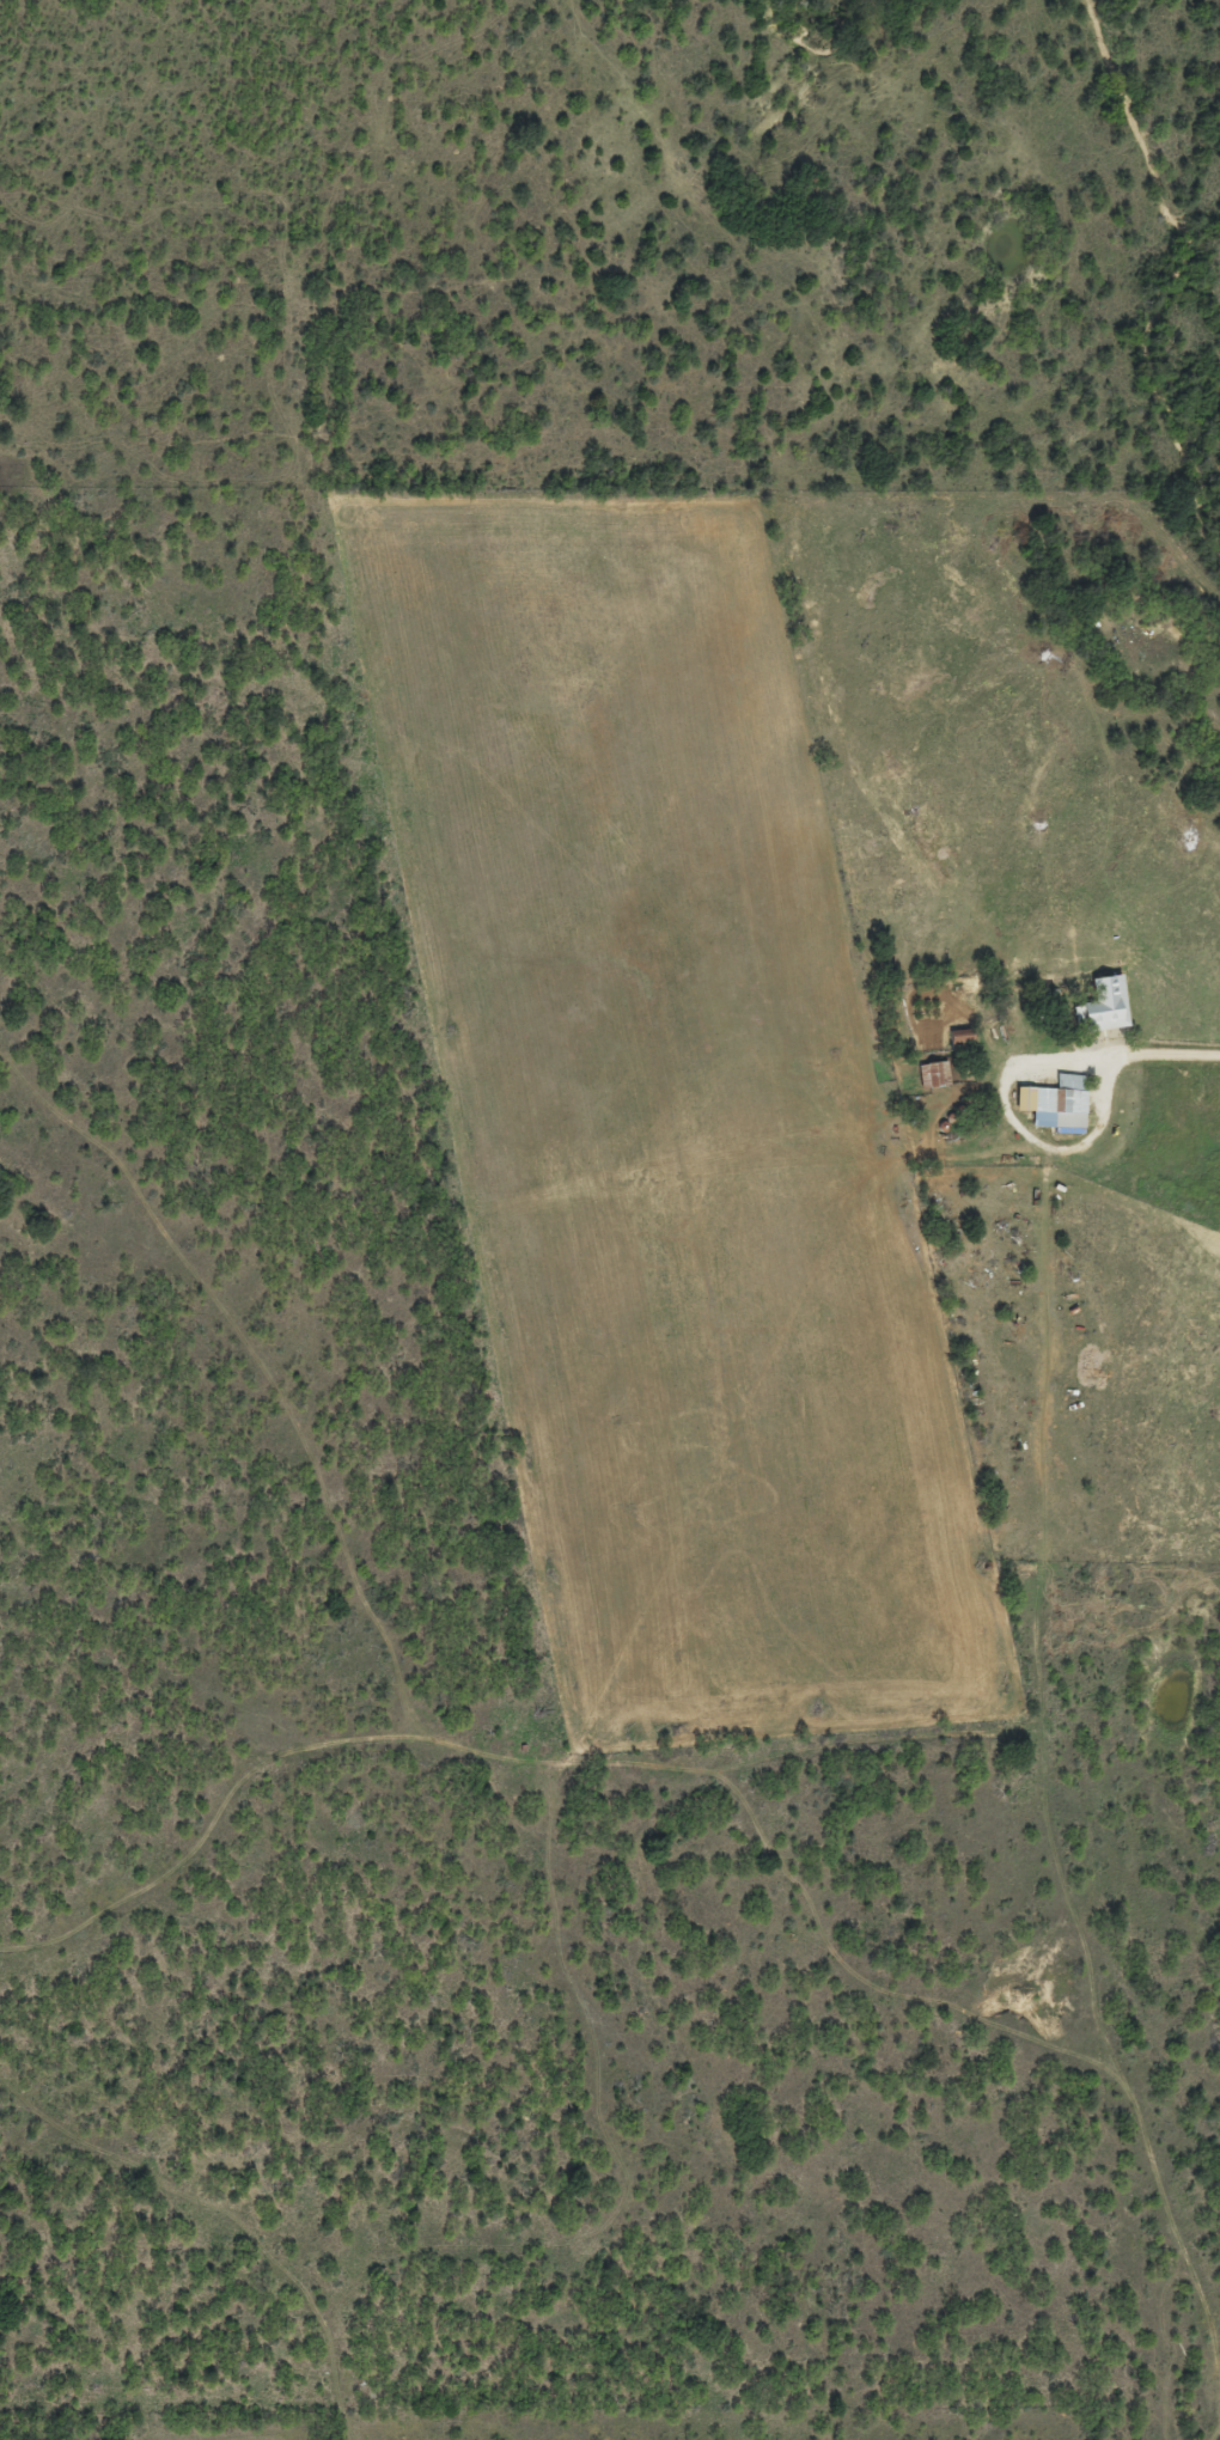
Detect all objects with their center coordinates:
building: (1105, 1013)
road: (1164, 1056)
building: (935, 1082)
building: (1059, 1112)
road: (1024, 1130)

